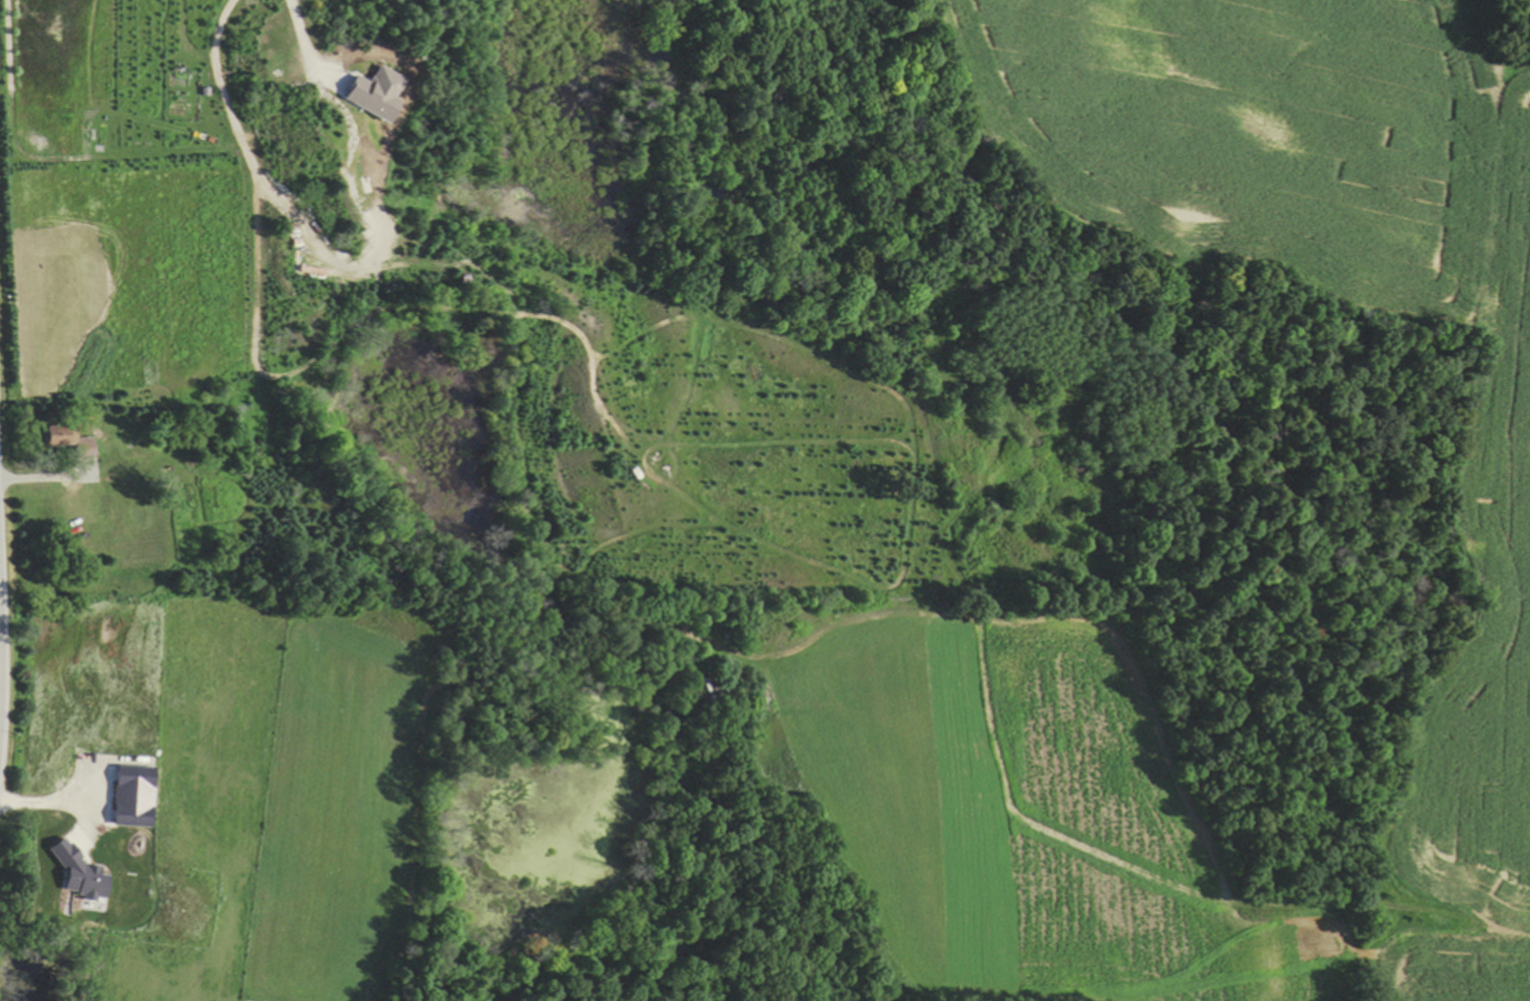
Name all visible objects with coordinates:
building: (69, 443)

